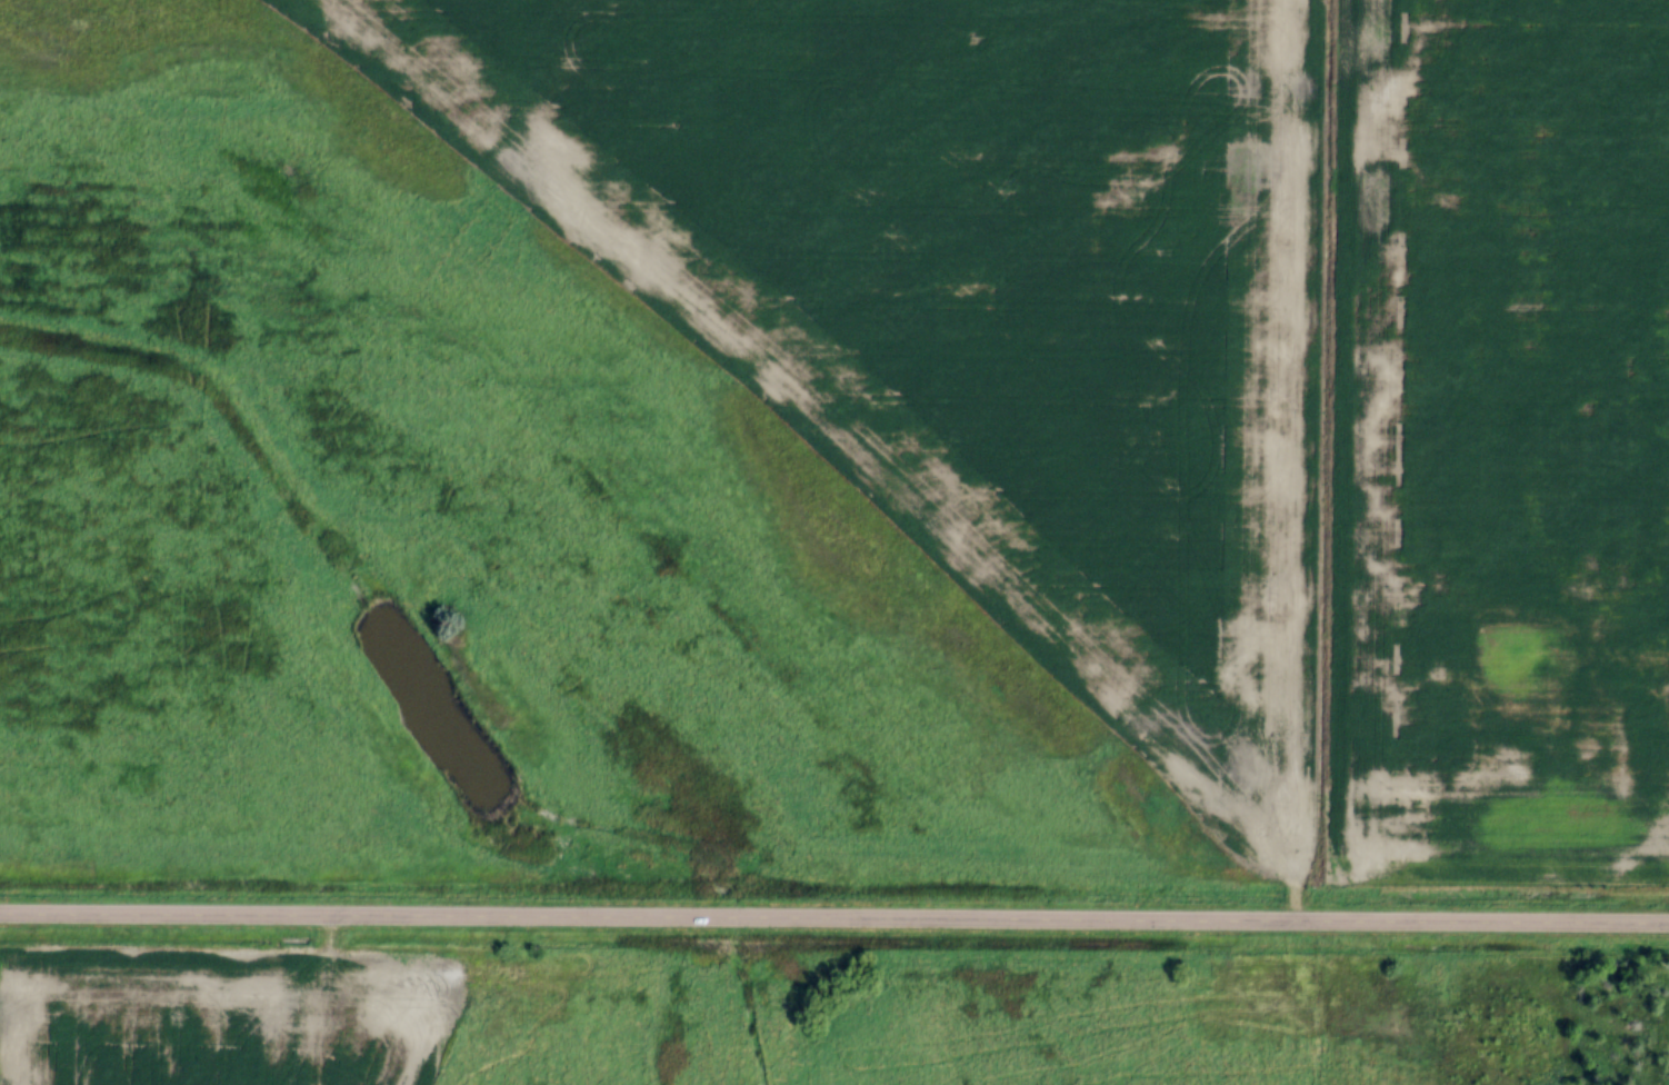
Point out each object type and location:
airport: (668, 446)
road: (1321, 461)
road: (834, 918)

